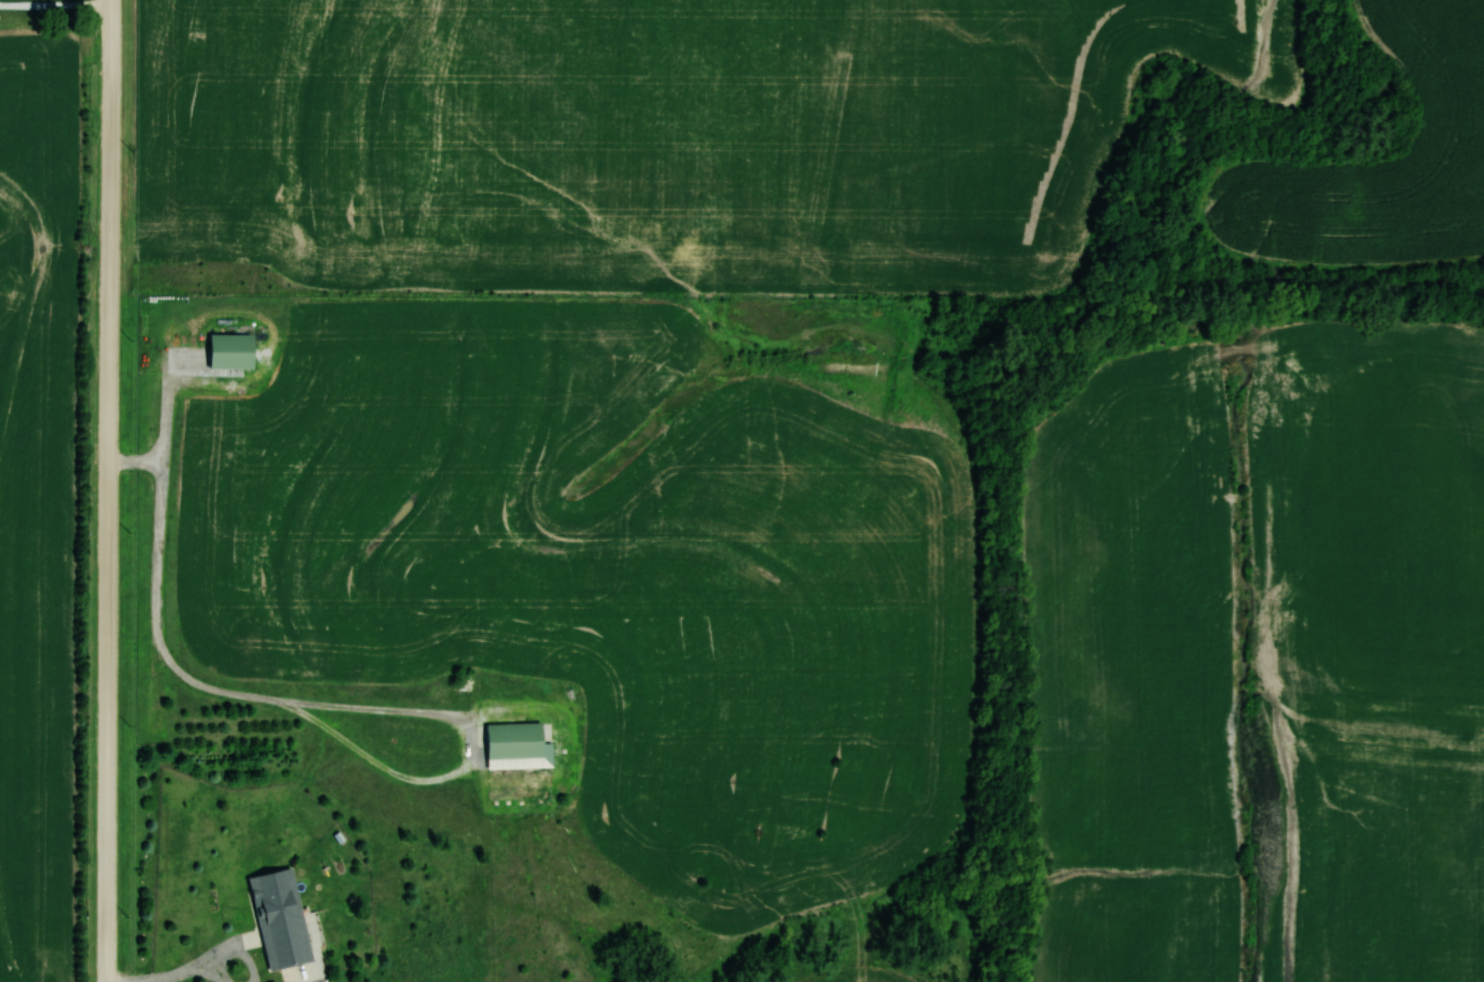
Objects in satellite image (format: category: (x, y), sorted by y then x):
road: (56, 5)
building: (228, 350)
road: (109, 491)
building: (676, 656)
building: (639, 698)
road: (317, 705)
building: (515, 746)
building: (278, 919)
road: (233, 952)
road: (176, 975)
road: (208, 975)

